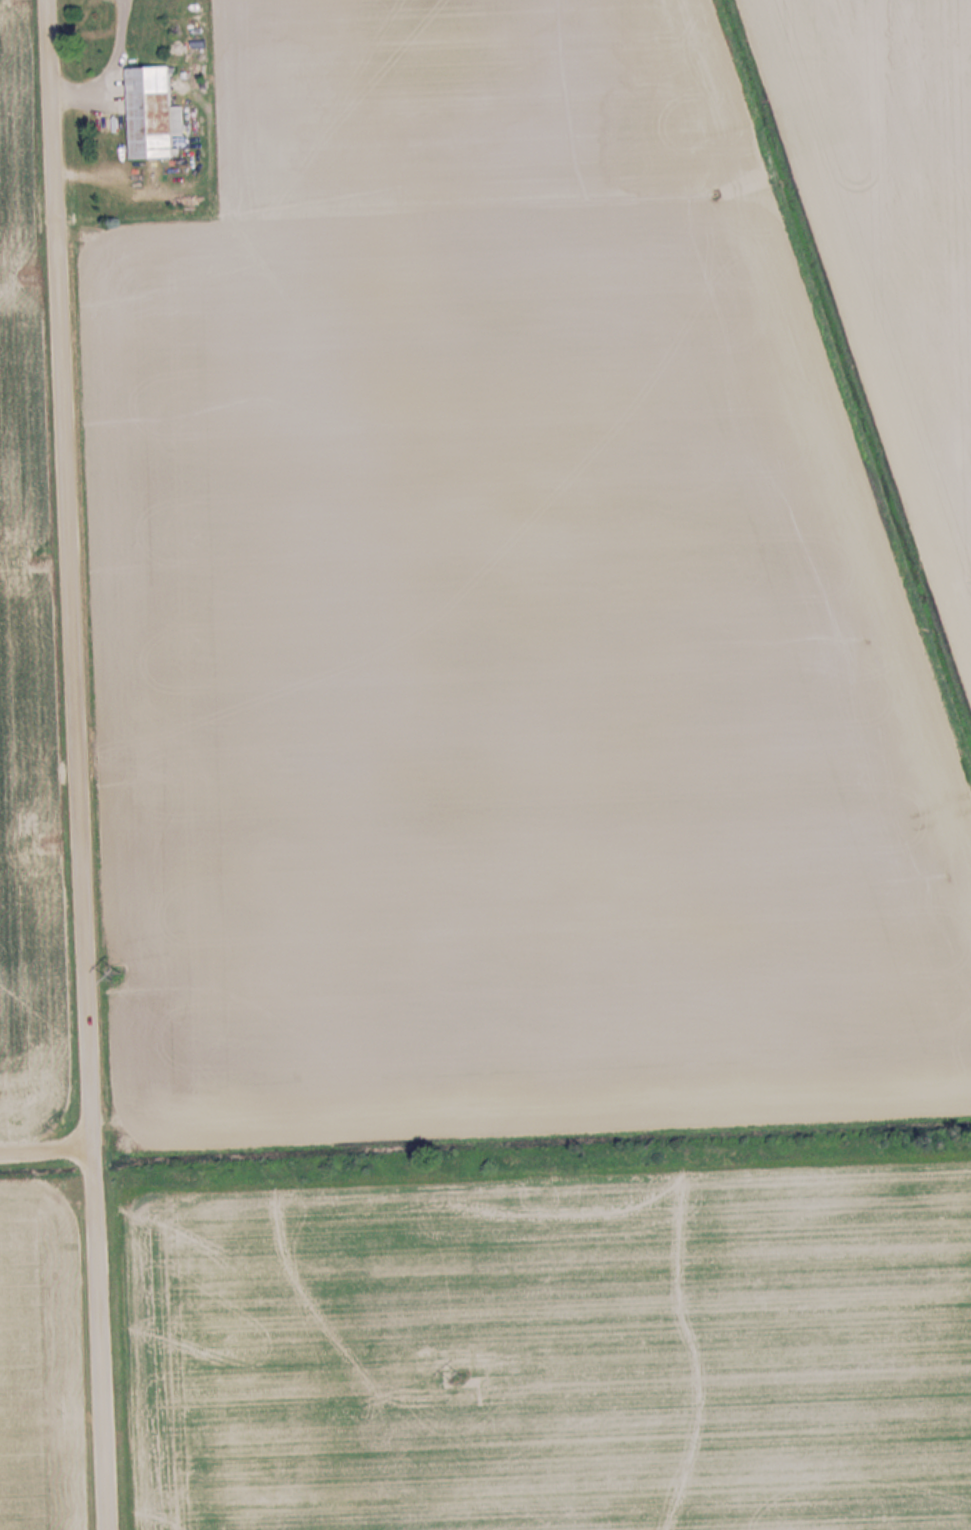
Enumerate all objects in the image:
building: (157, 113)
road: (74, 764)
power tower: (119, 972)
road: (44, 1159)
power tower: (461, 1379)

